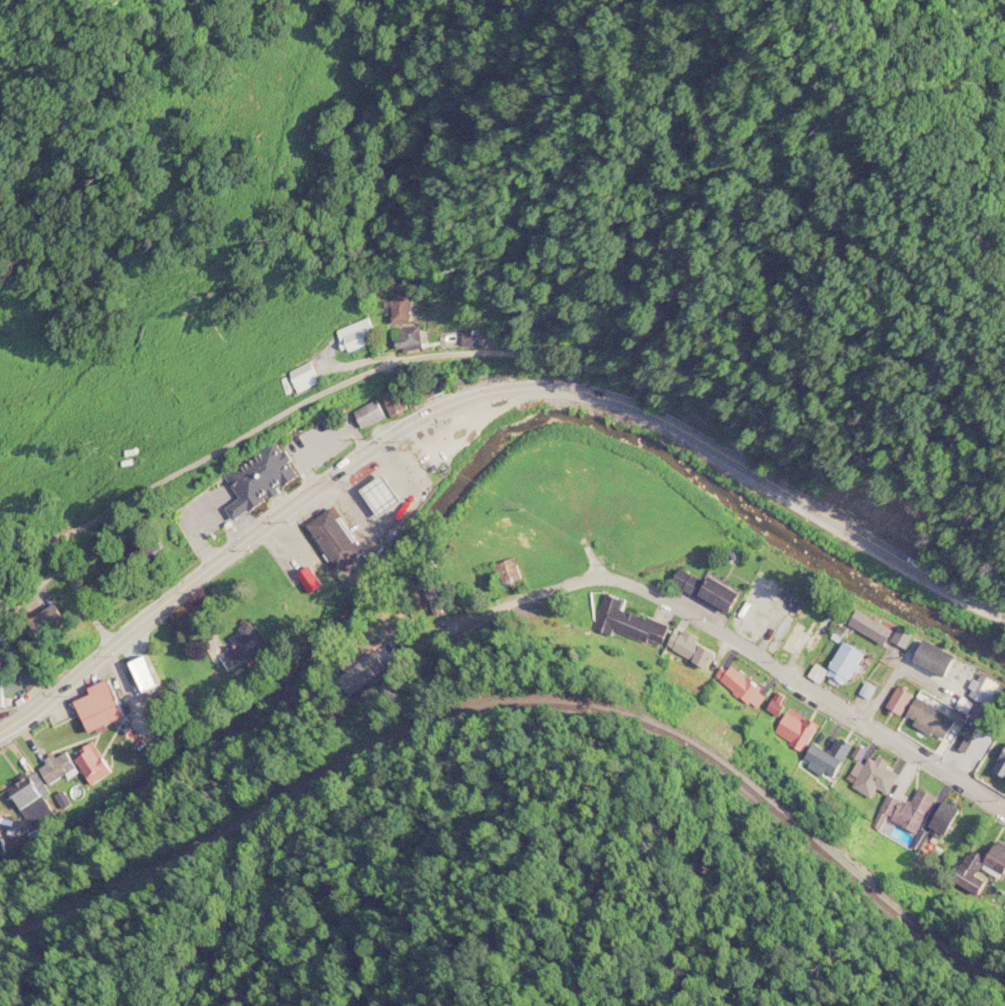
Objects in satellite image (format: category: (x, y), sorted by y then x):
building: (402, 307)
building: (356, 334)
building: (408, 337)
road: (408, 360)
building: (302, 376)
building: (430, 386)
road: (551, 386)
building: (401, 401)
building: (371, 414)
road: (450, 416)
road: (697, 453)
building: (257, 478)
road: (348, 478)
building: (379, 493)
building: (334, 535)
road: (34, 536)
building: (510, 570)
building: (705, 588)
road: (950, 597)
building: (434, 599)
road: (979, 599)
road: (997, 606)
building: (383, 619)
road: (155, 620)
building: (627, 621)
building: (57, 623)
building: (869, 626)
road: (722, 637)
building: (237, 649)
building: (688, 649)
building: (845, 661)
building: (3, 662)
road: (76, 672)
building: (138, 675)
road: (120, 687)
building: (2, 694)
building: (898, 700)
building: (91, 707)
railway: (522, 707)
building: (929, 718)
building: (795, 730)
building: (828, 756)
building: (73, 763)
building: (92, 763)
building: (1000, 764)
building: (43, 771)
building: (873, 777)
building: (24, 792)
building: (11, 794)
building: (905, 810)
building: (943, 818)
building: (987, 870)

